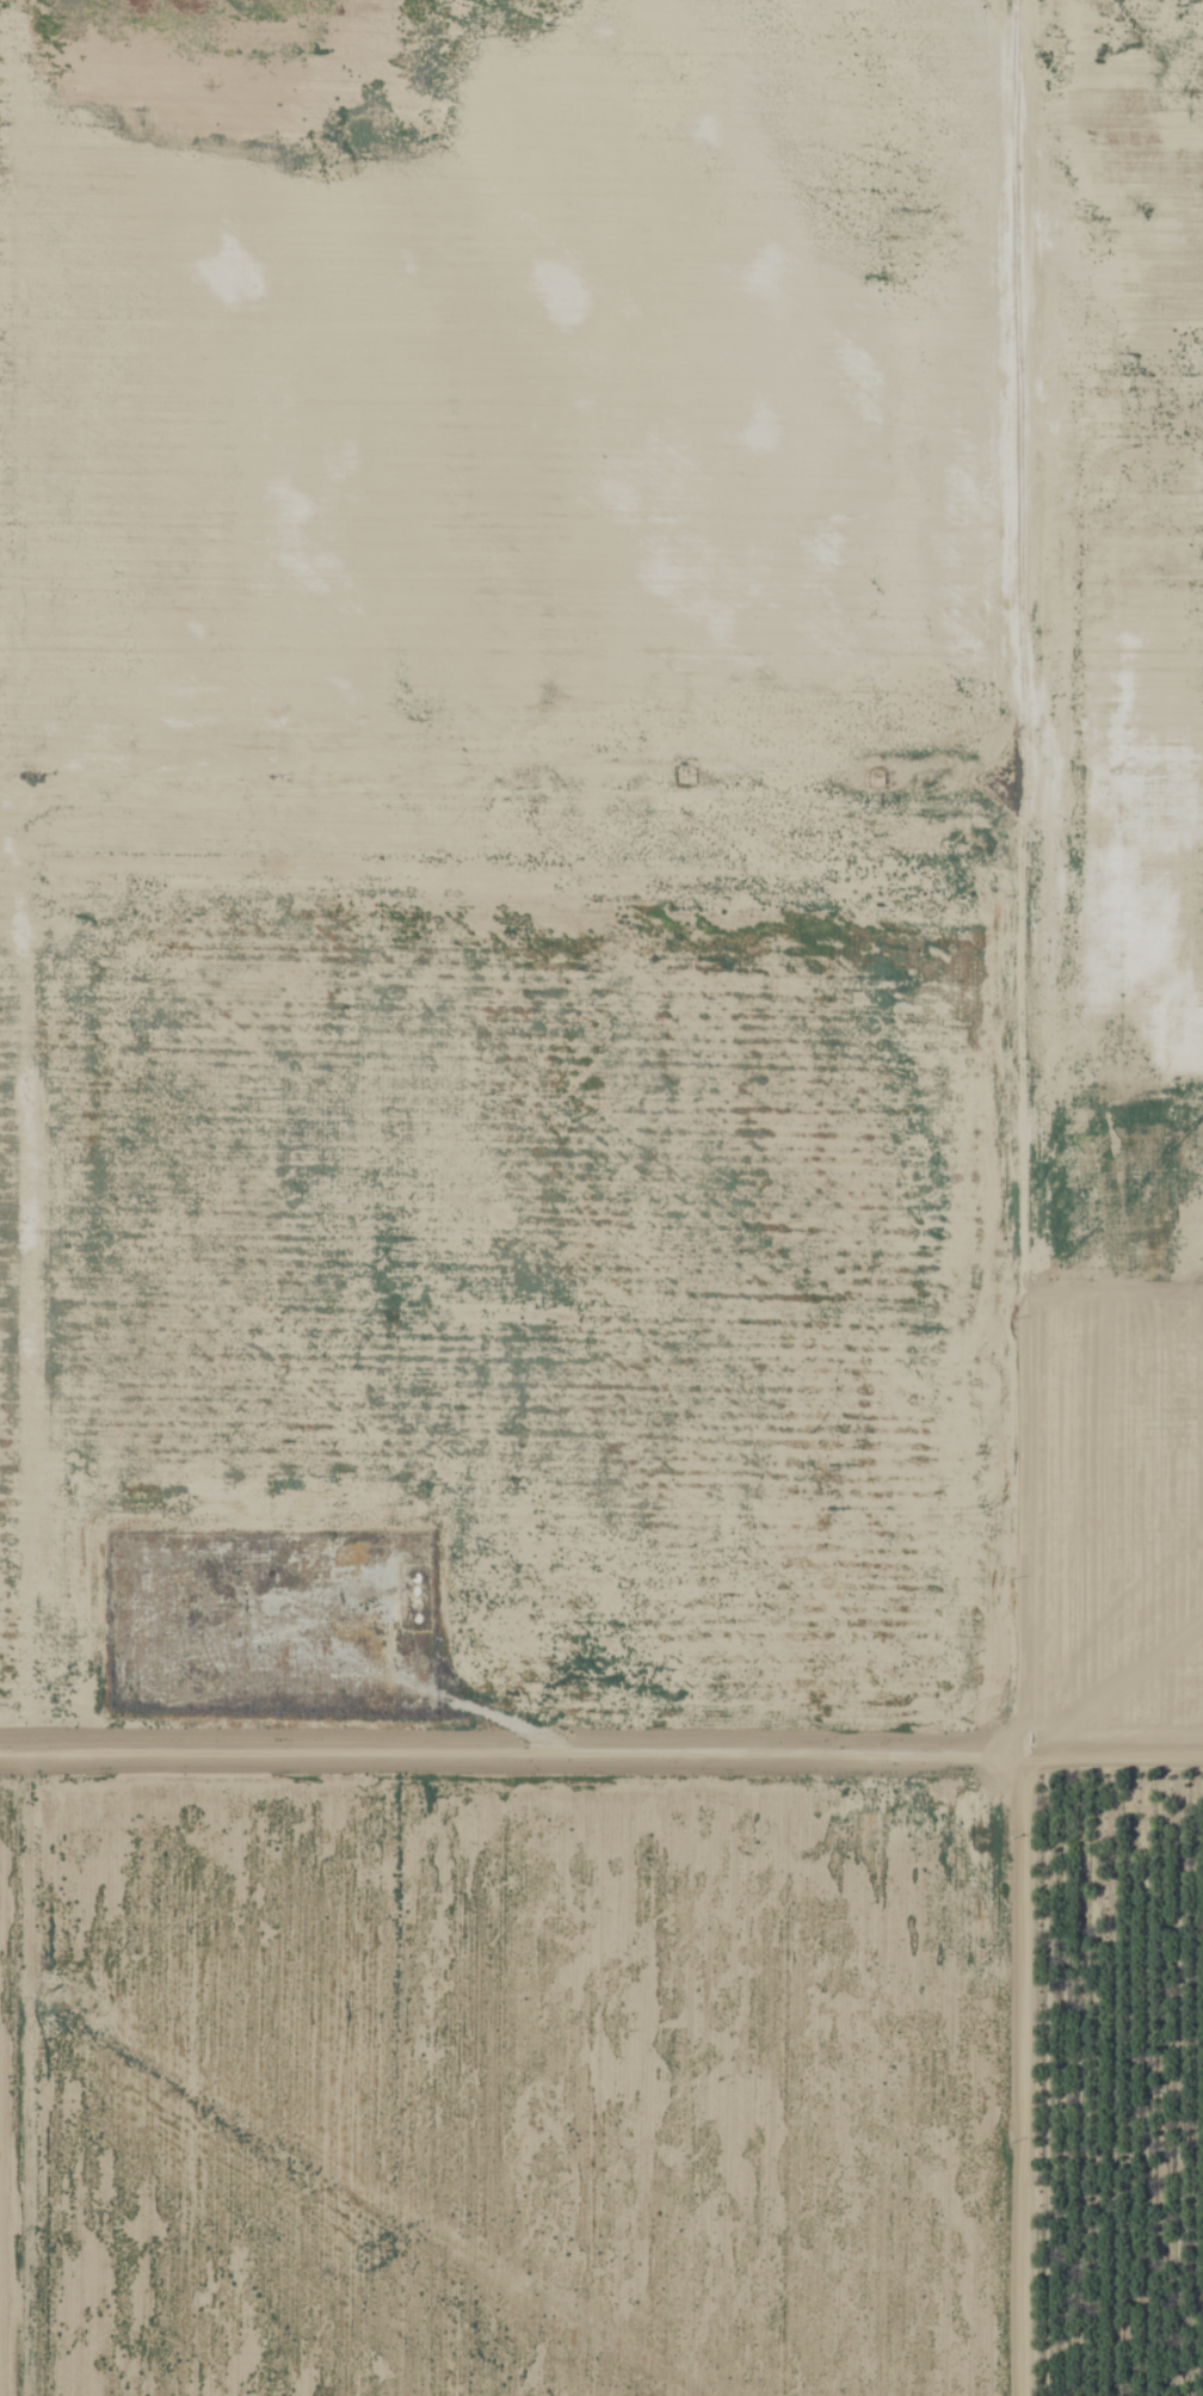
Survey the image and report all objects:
crop: (530, 1665)
road: (477, 1749)
road: (1111, 1770)
road: (1020, 2050)

